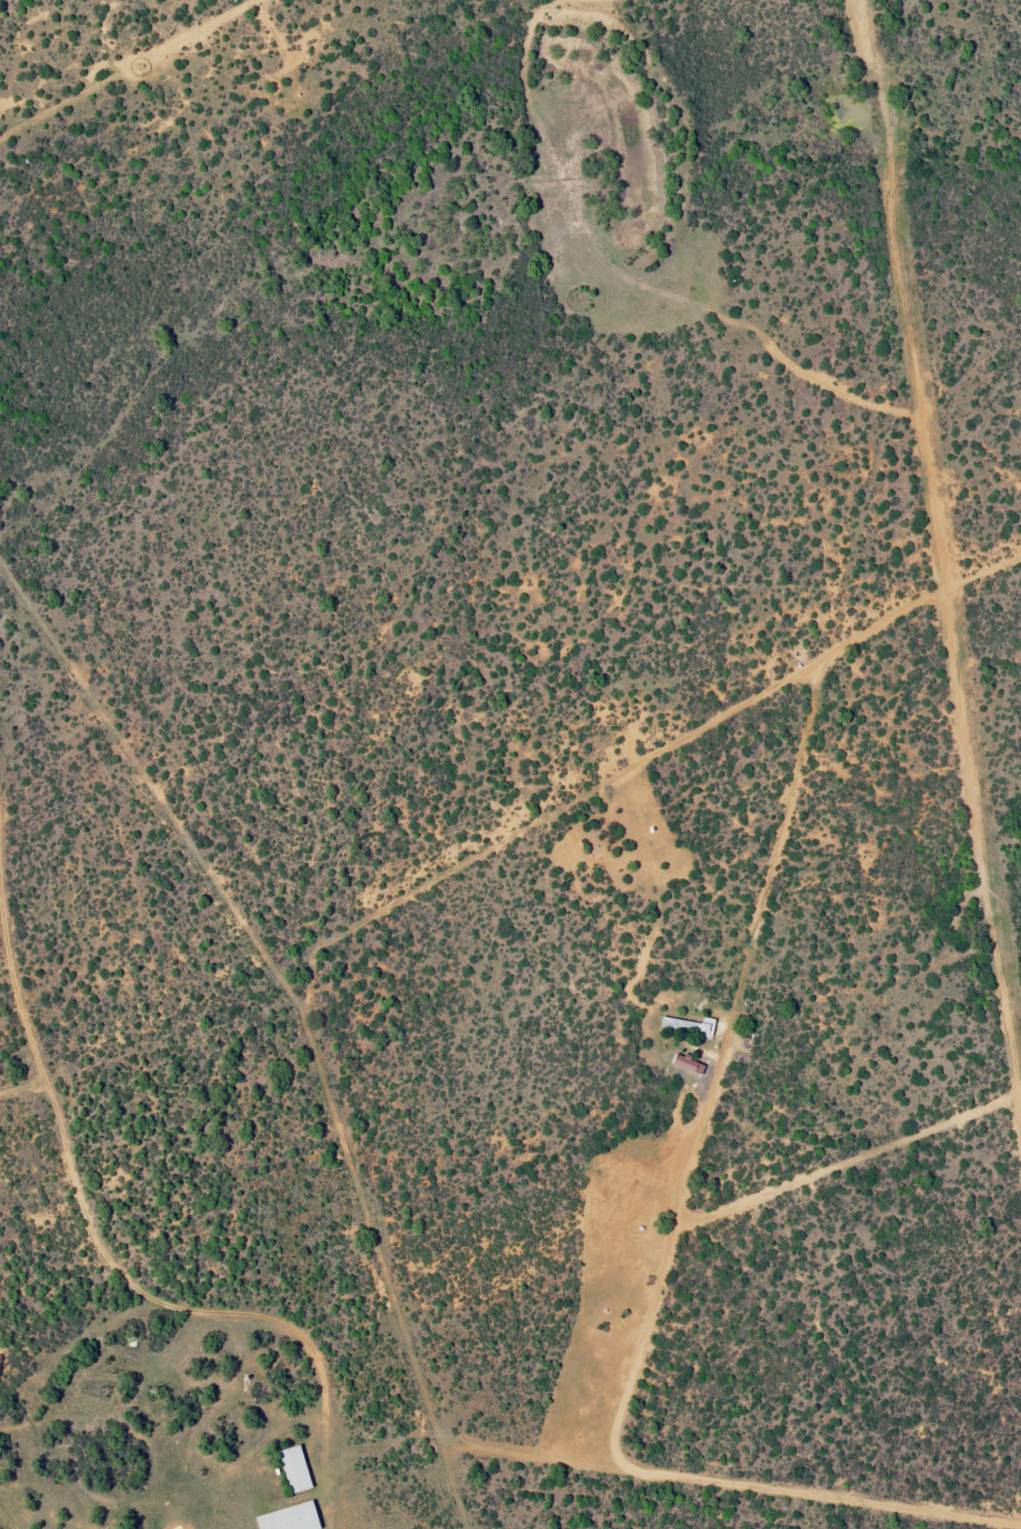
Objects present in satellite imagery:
building: (689, 1026)
road: (236, 1413)
building: (294, 1470)
building: (289, 1518)

